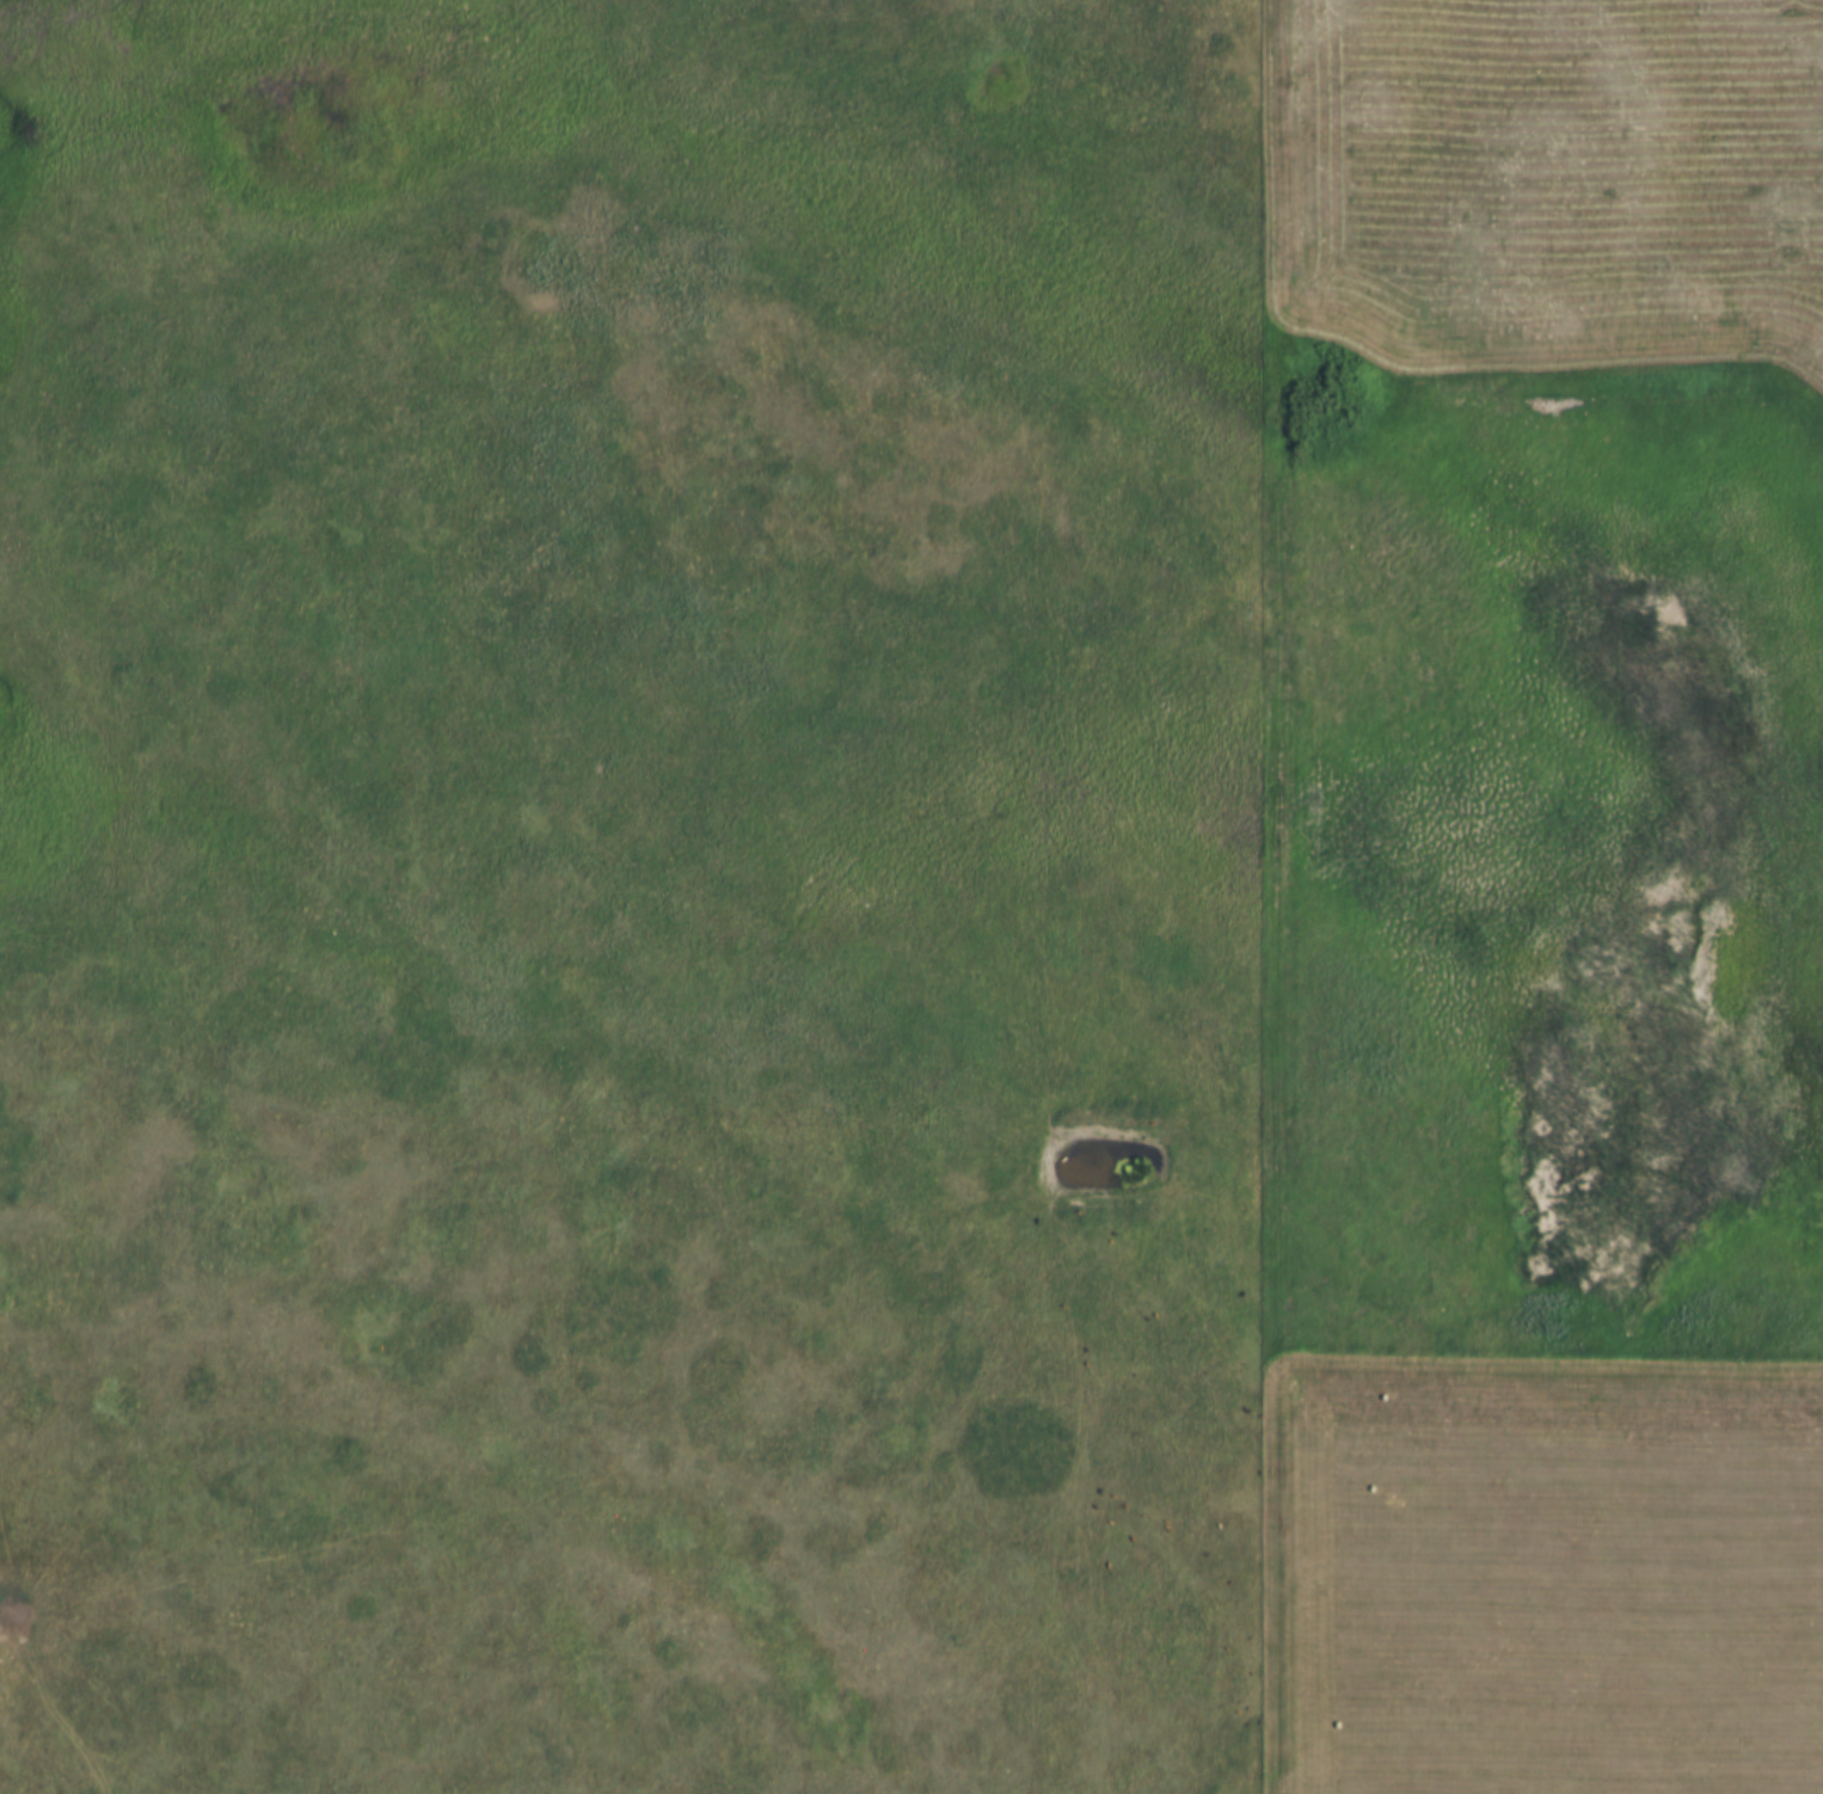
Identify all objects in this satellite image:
road: (1269, 897)

